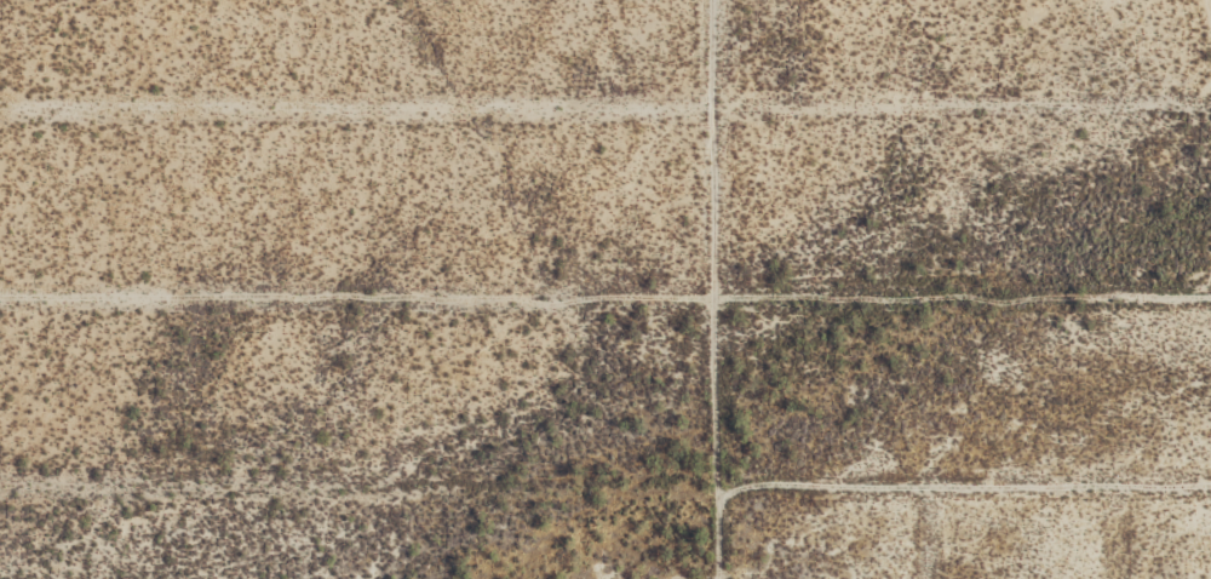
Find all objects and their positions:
road: (1209, 5)
road: (605, 107)
road: (714, 243)
road: (624, 285)
road: (604, 296)
road: (605, 488)
road: (1115, 532)
road: (928, 533)

